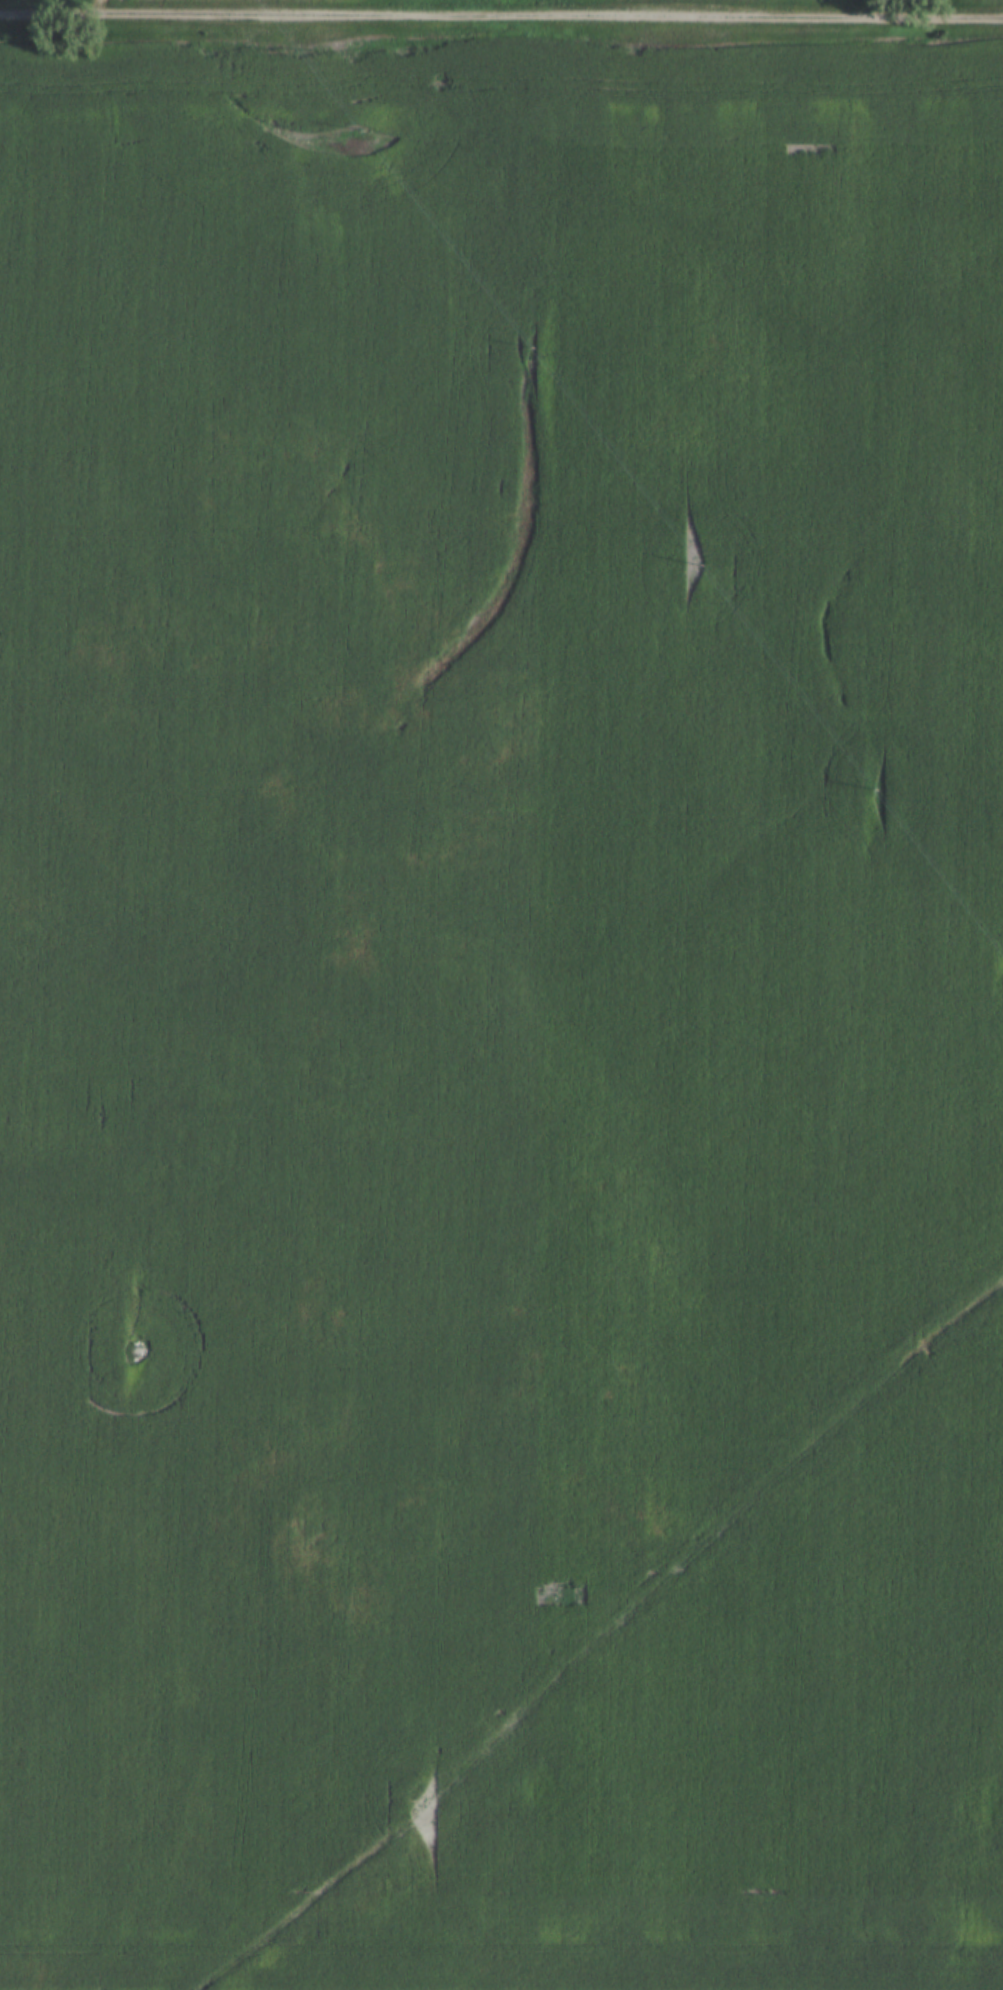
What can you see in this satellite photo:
road: (501, 13)

